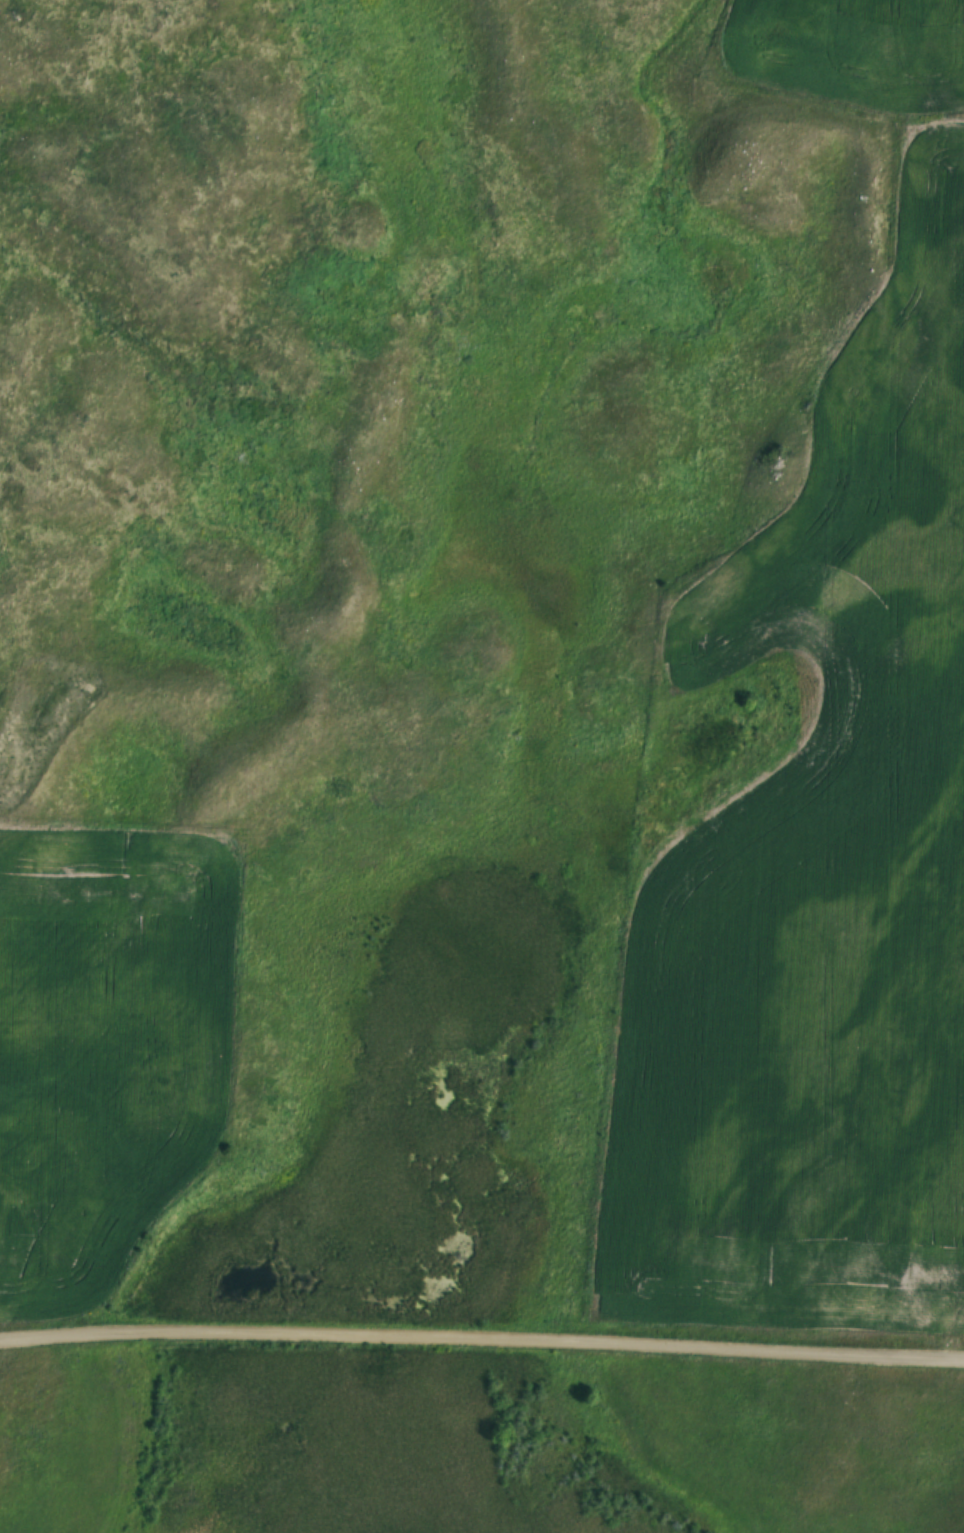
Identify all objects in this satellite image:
road: (481, 1341)

